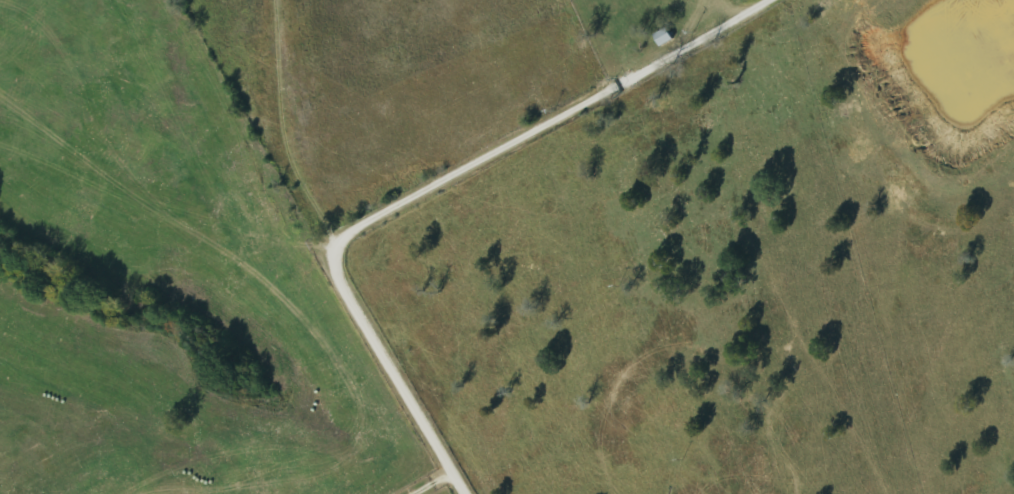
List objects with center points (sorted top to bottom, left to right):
road: (542, 123)
road: (331, 259)

